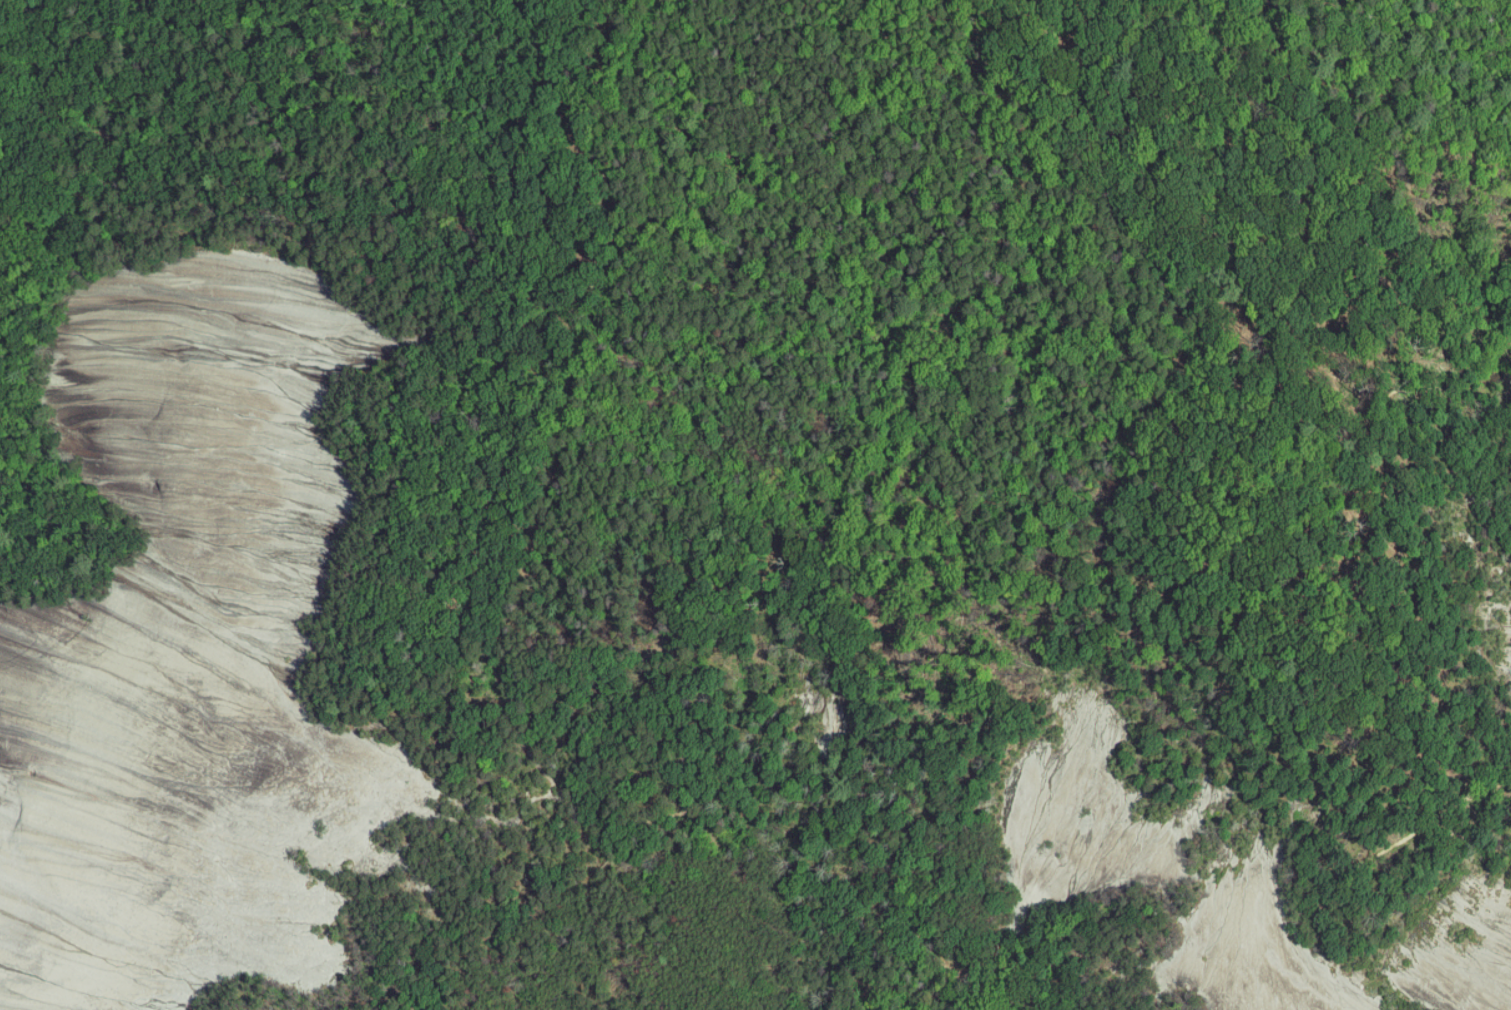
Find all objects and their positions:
road: (403, 69)
road: (549, 393)
road: (492, 817)
road: (824, 855)
road: (1343, 869)
building: (968, 1006)

